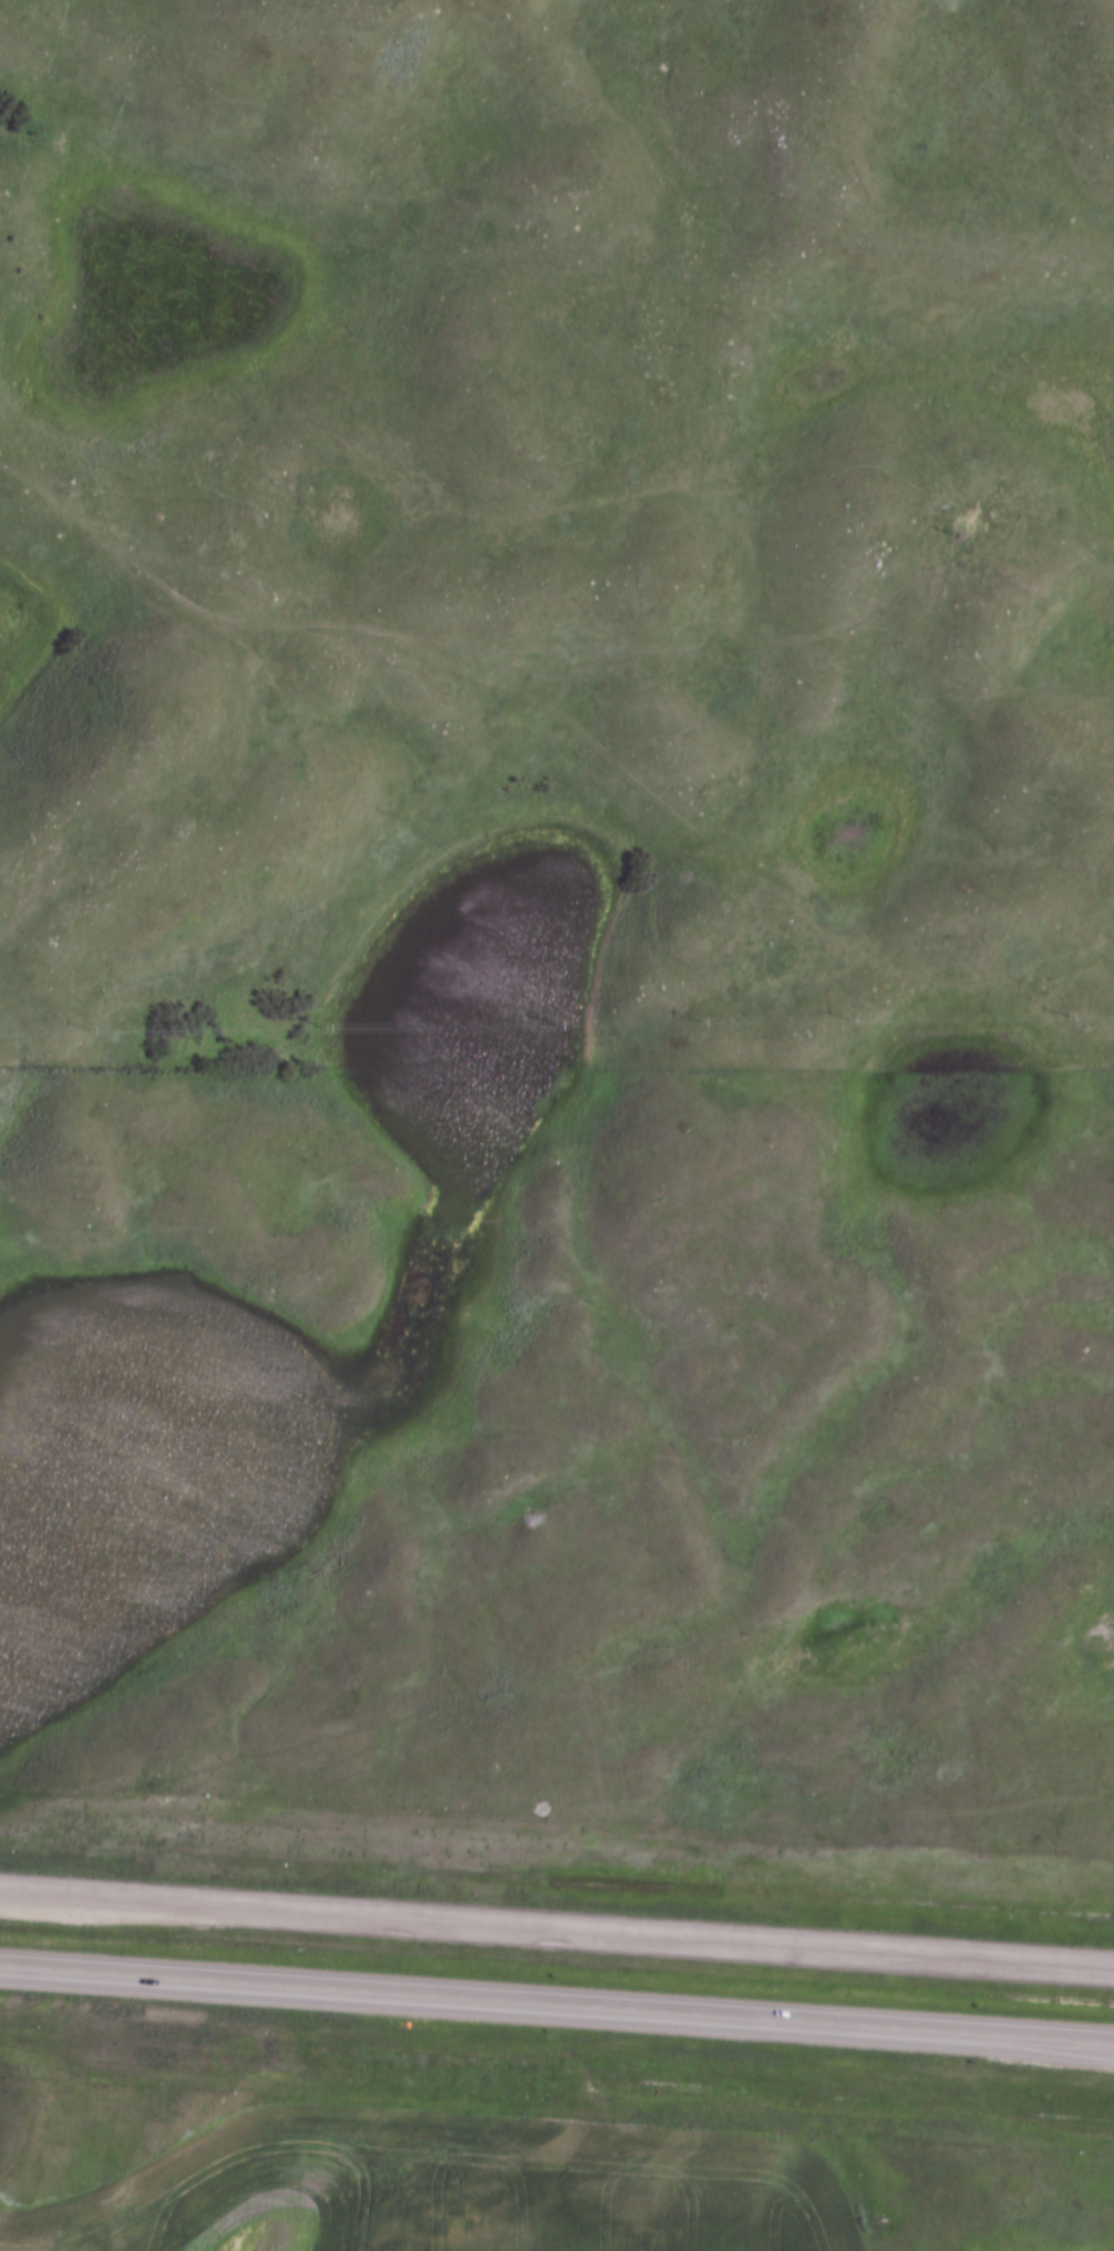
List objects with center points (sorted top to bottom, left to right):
road: (557, 1929)
road: (557, 2001)

